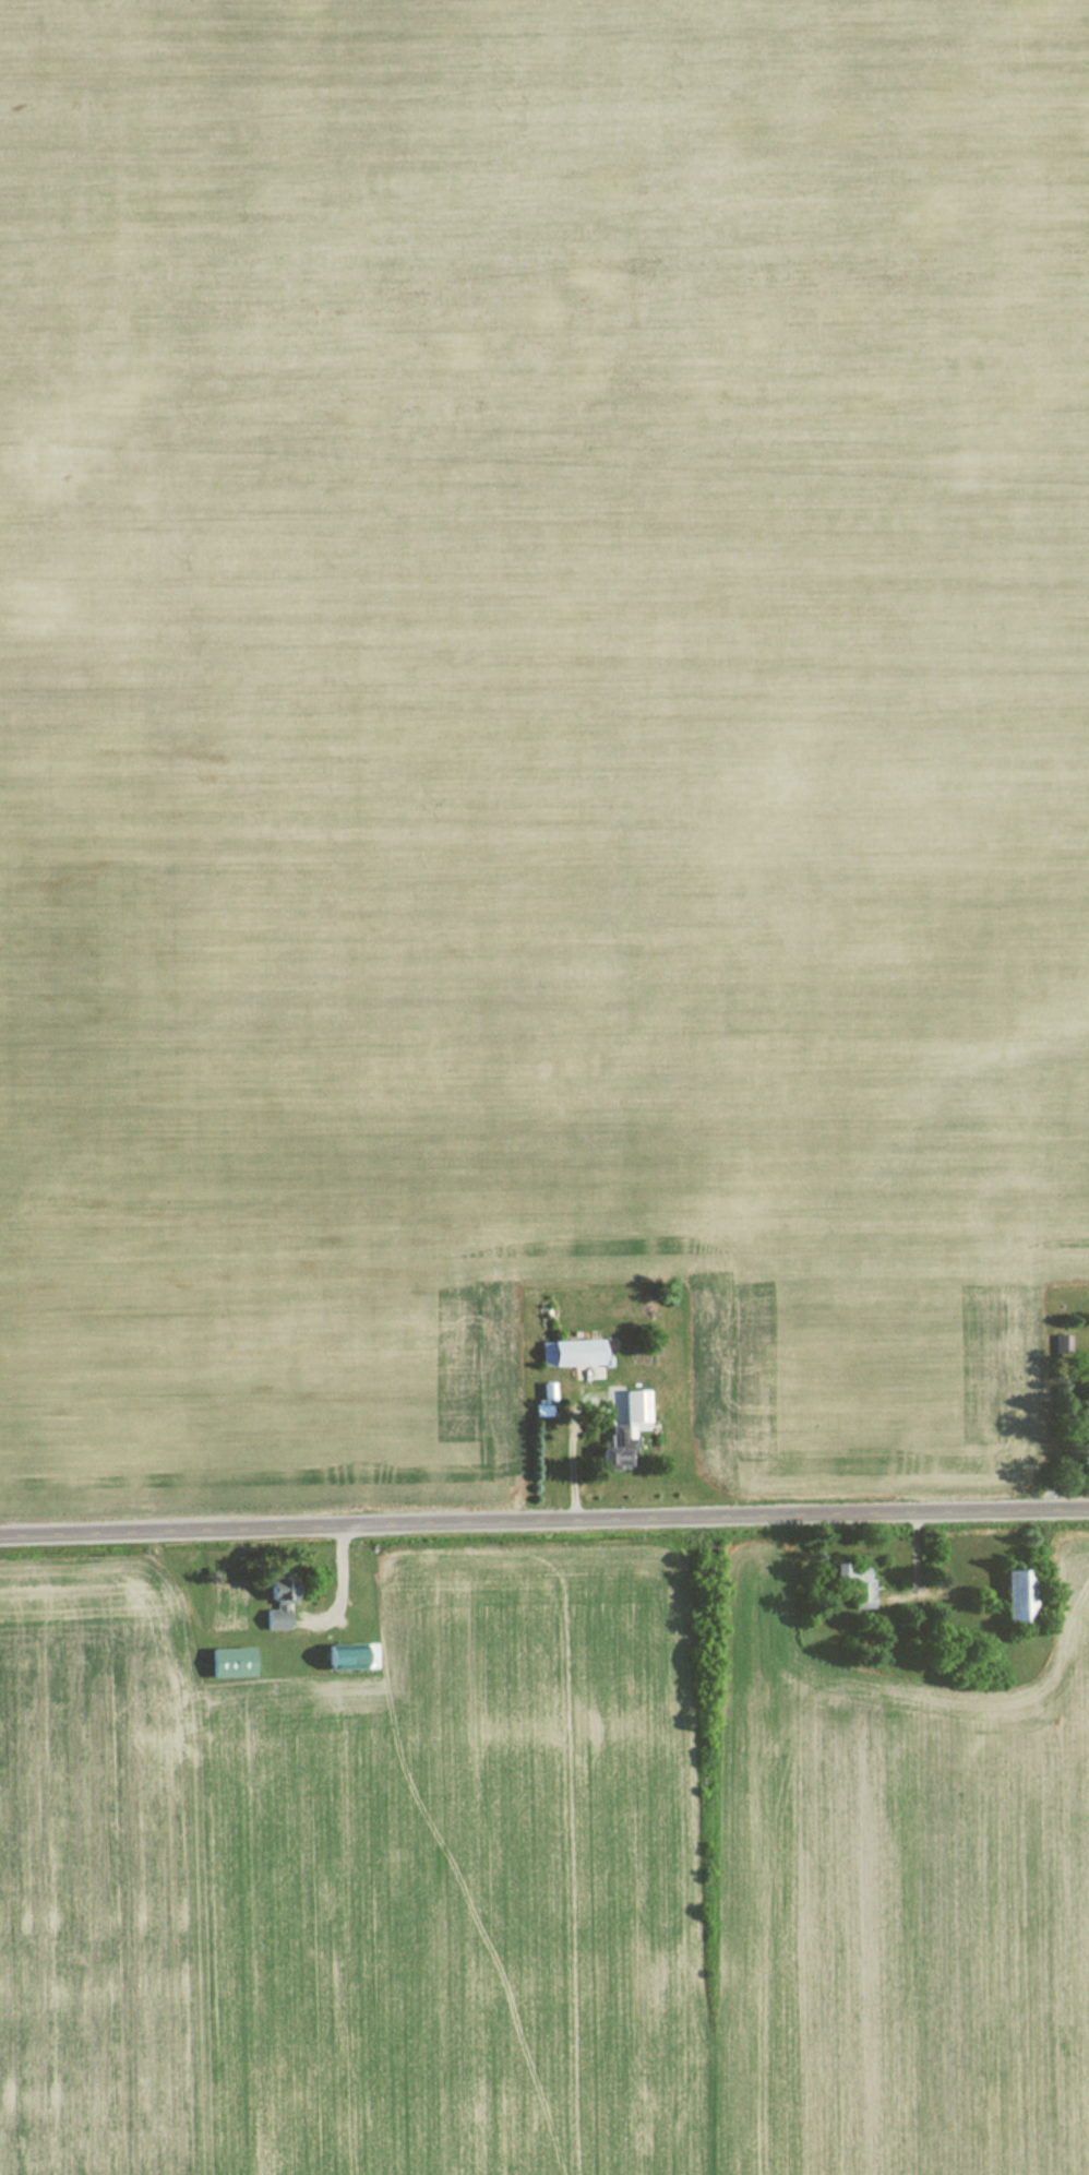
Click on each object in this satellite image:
crop: (537, 720)
building: (566, 1352)
building: (620, 1425)
road: (543, 1522)
building: (1013, 1595)
building: (273, 1609)
building: (363, 1654)
building: (226, 1662)
crop: (536, 1891)

